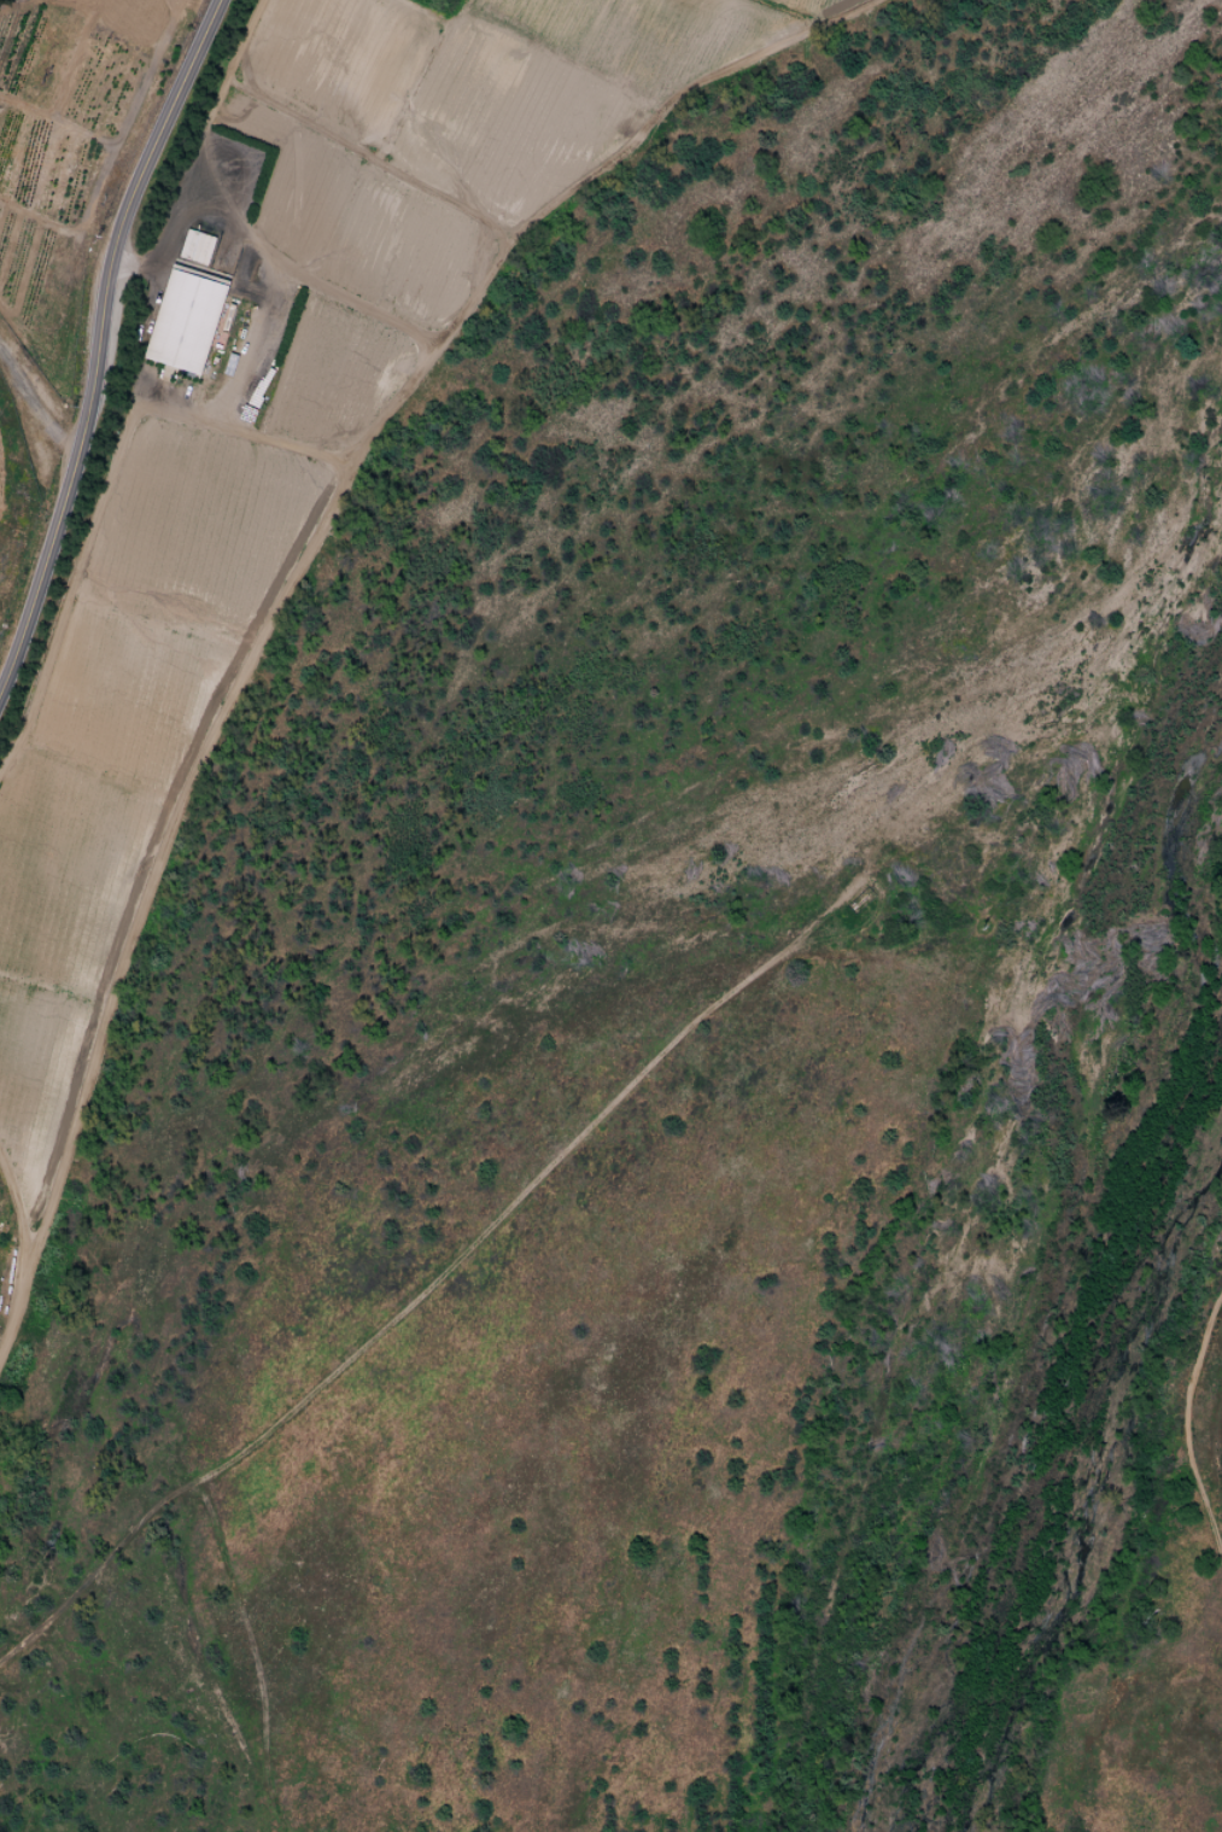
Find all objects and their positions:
crop: (404, 171)
building: (197, 247)
building: (185, 322)
road: (99, 340)
road: (34, 406)
crop: (127, 741)
park: (712, 1048)
river: (1089, 1342)
road: (1183, 1430)

